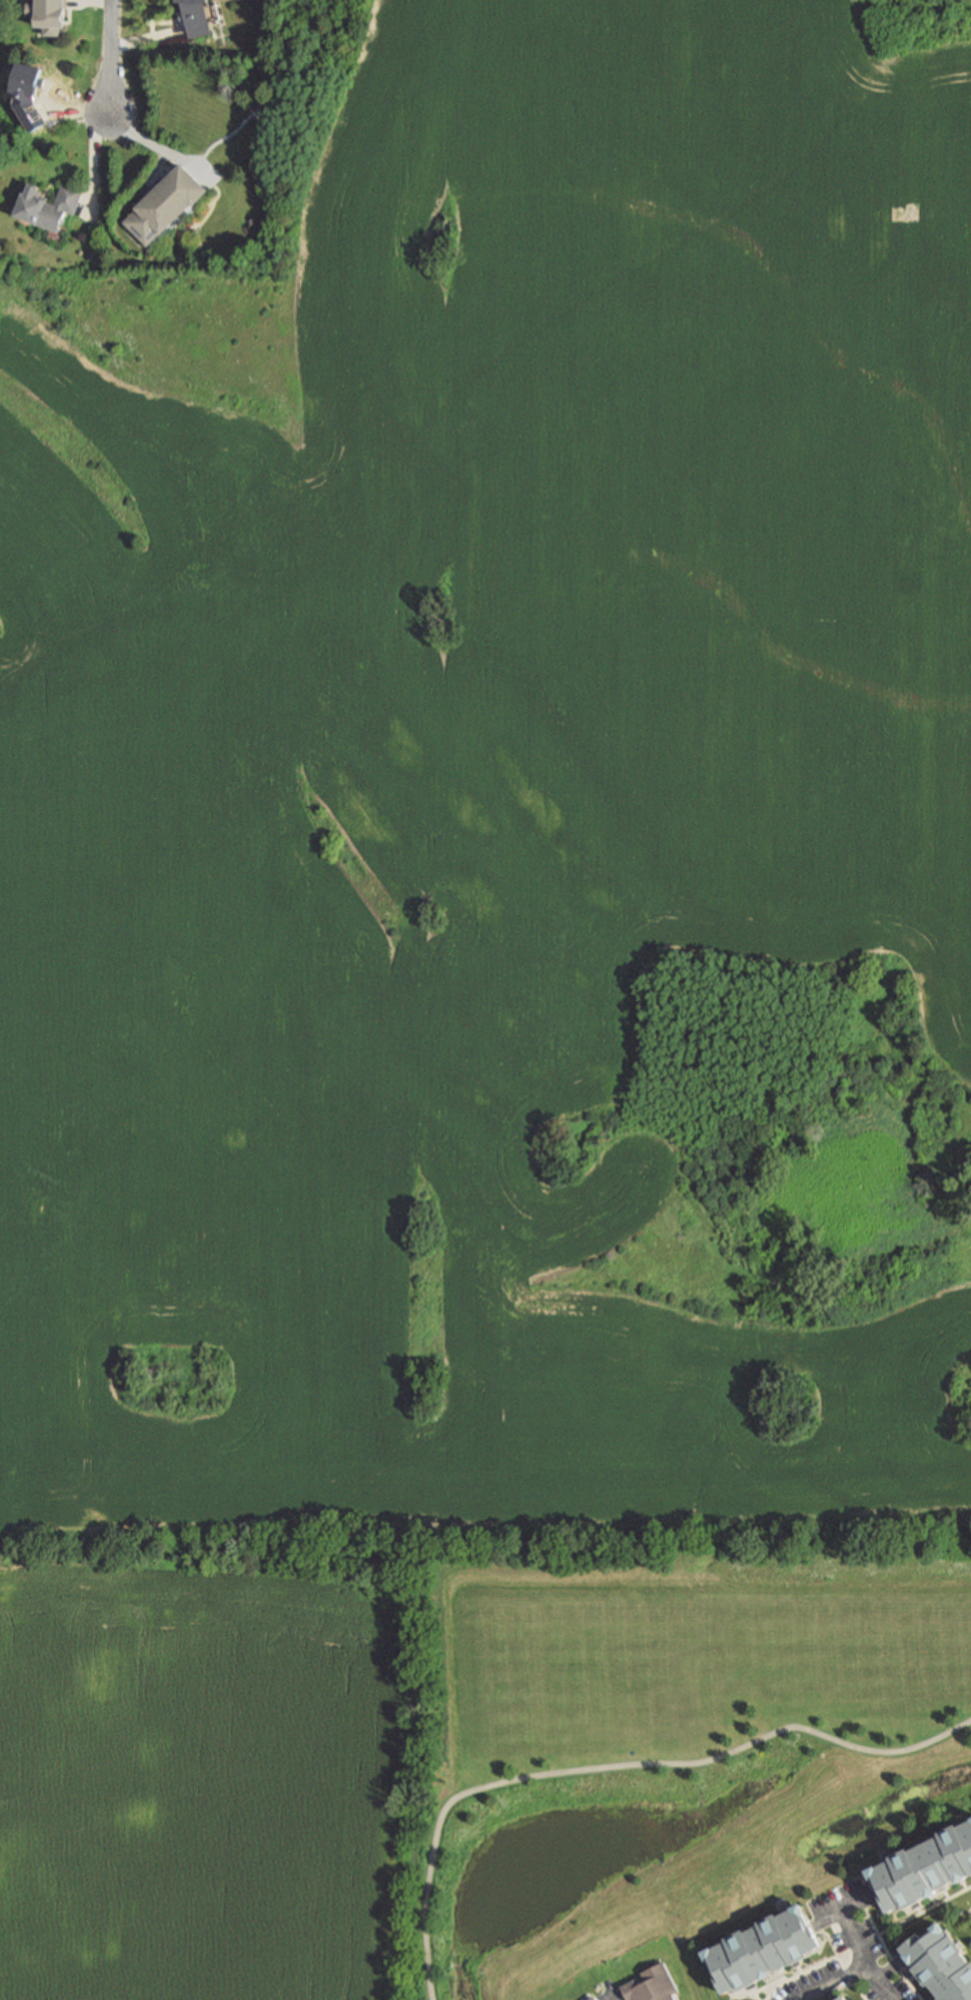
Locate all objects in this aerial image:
building: (50, 15)
building: (196, 17)
road: (147, 39)
road: (111, 61)
road: (162, 148)
road: (95, 163)
building: (168, 205)
building: (50, 207)
crop: (502, 818)
park: (658, 1735)
road: (617, 1766)
road: (44, 1801)
building: (924, 1867)
road: (844, 1910)
building: (757, 1950)
road: (865, 1957)
building: (942, 1963)
road: (837, 1982)
building: (650, 1984)
building: (590, 1998)
building: (846, 1998)
building: (934, 1999)

